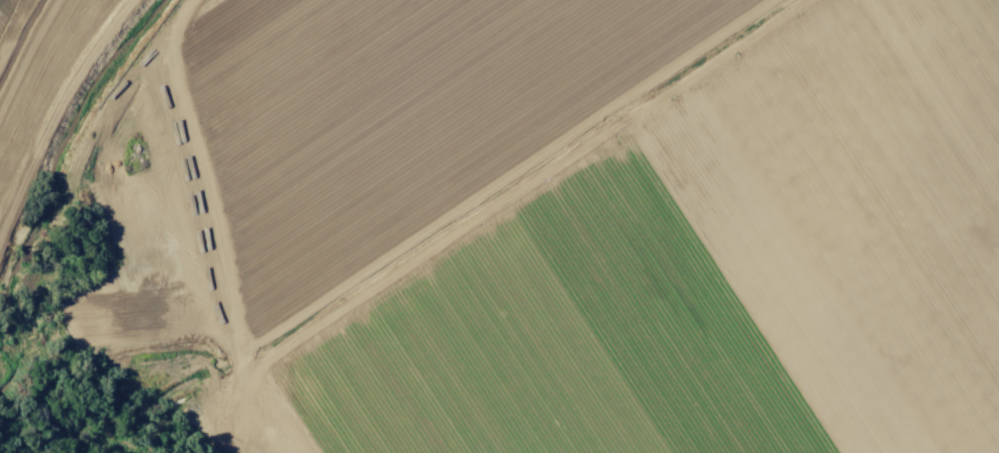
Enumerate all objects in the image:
crop: (12, 24)
crop: (626, 220)
road: (238, 222)

